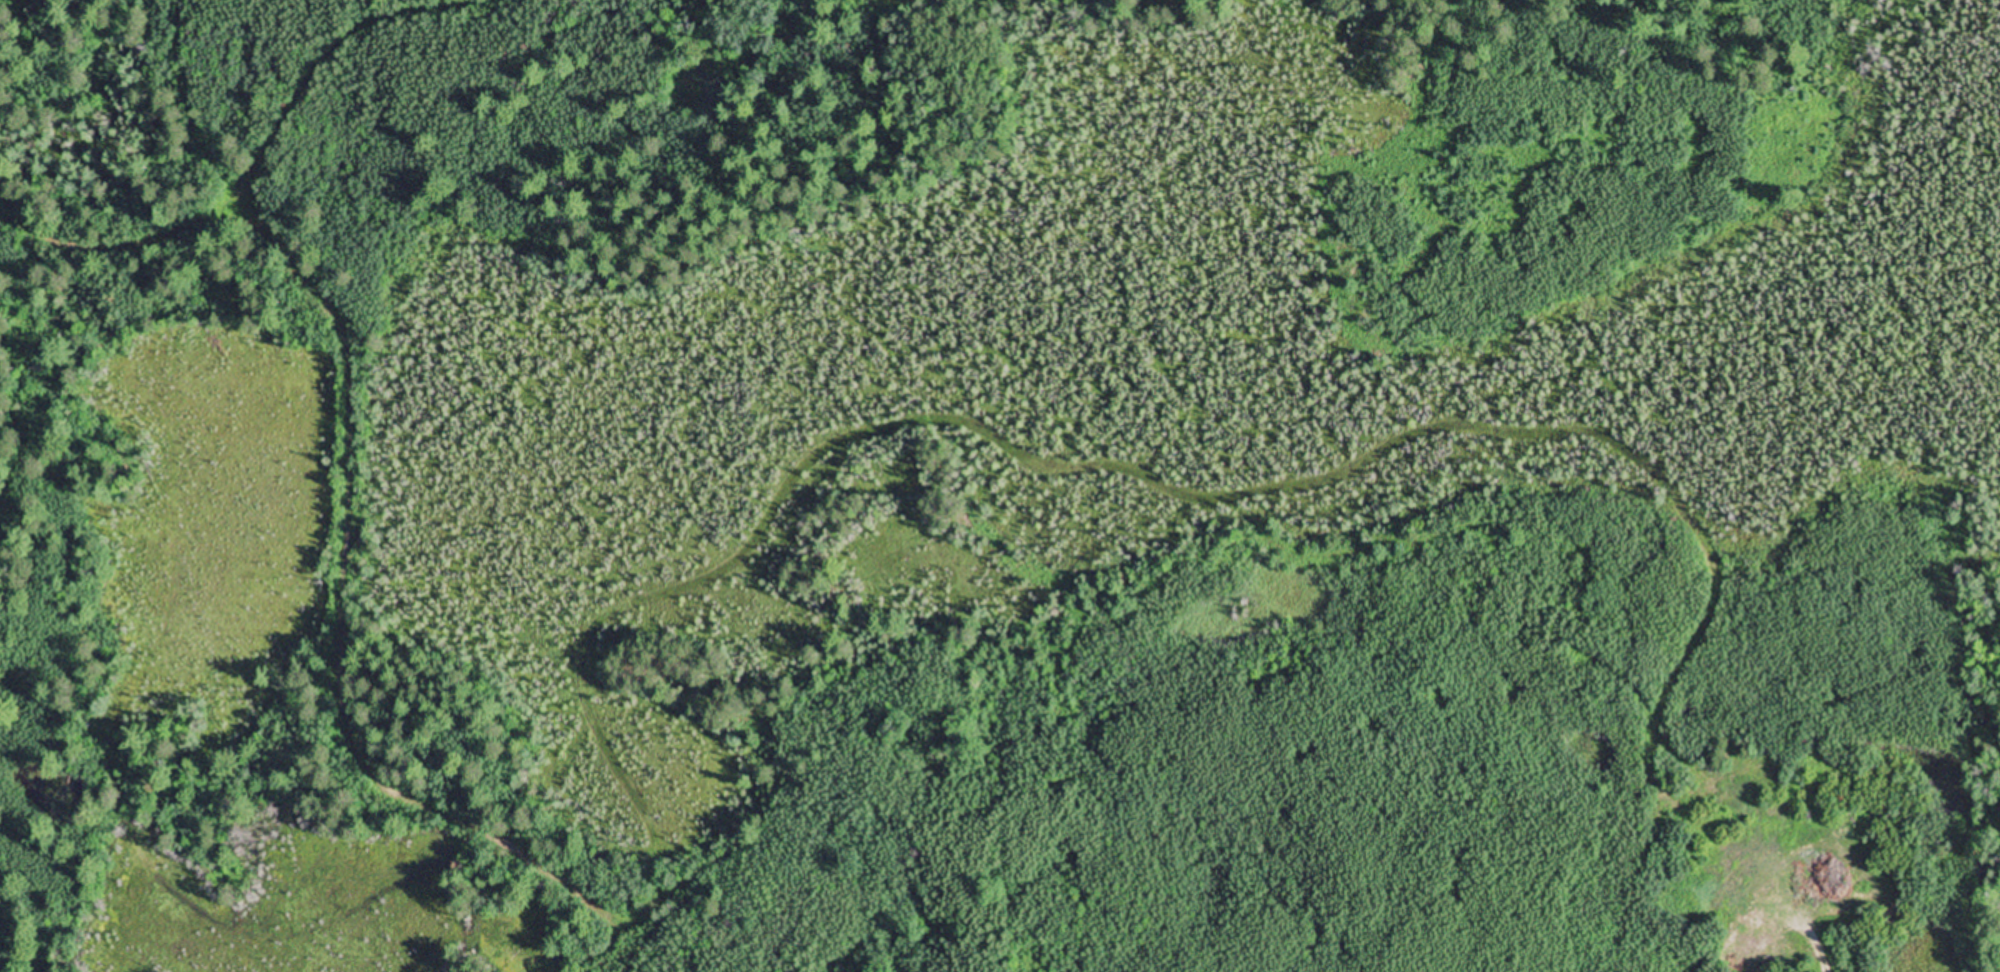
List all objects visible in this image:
road: (1767, 874)

